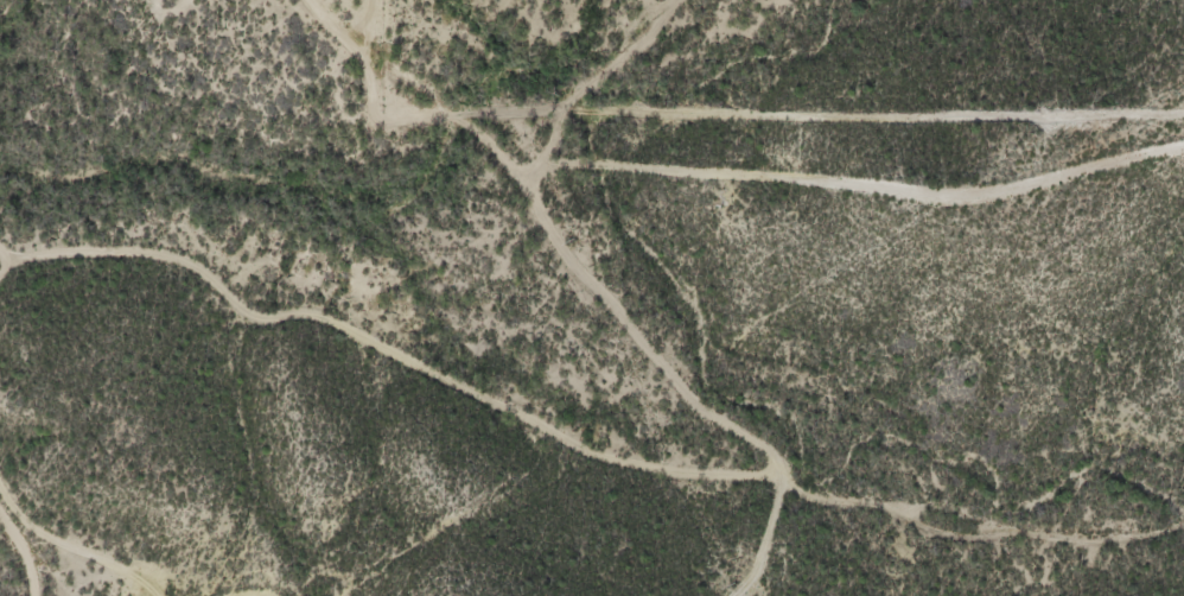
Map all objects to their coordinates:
road: (399, 355)
road: (687, 386)
road: (766, 541)
road: (58, 559)
road: (38, 573)

